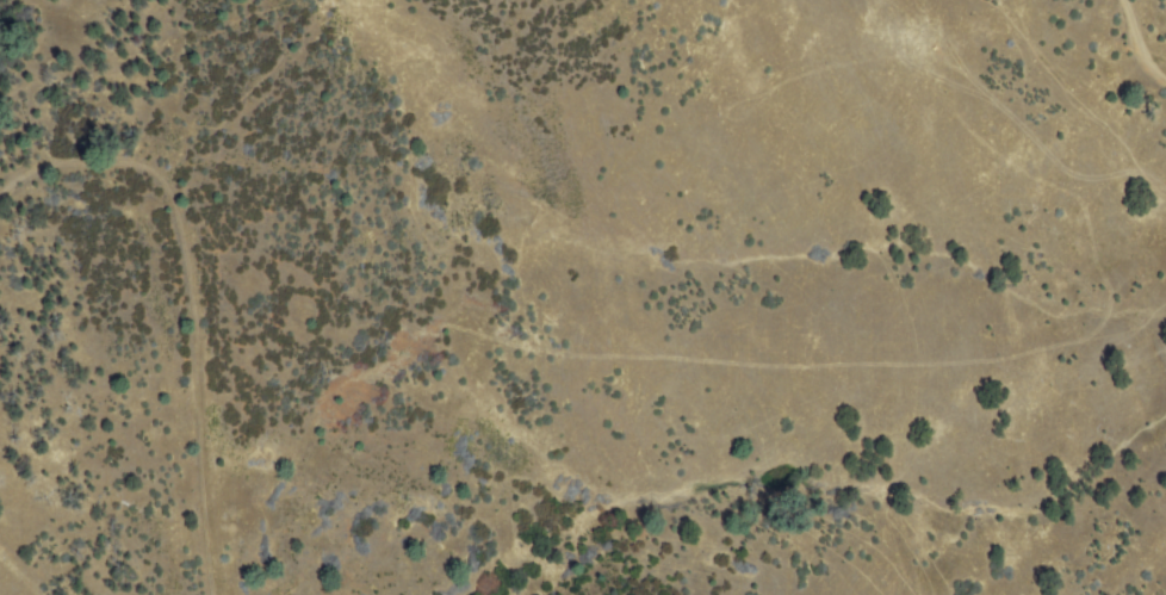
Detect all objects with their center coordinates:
road: (1139, 48)

